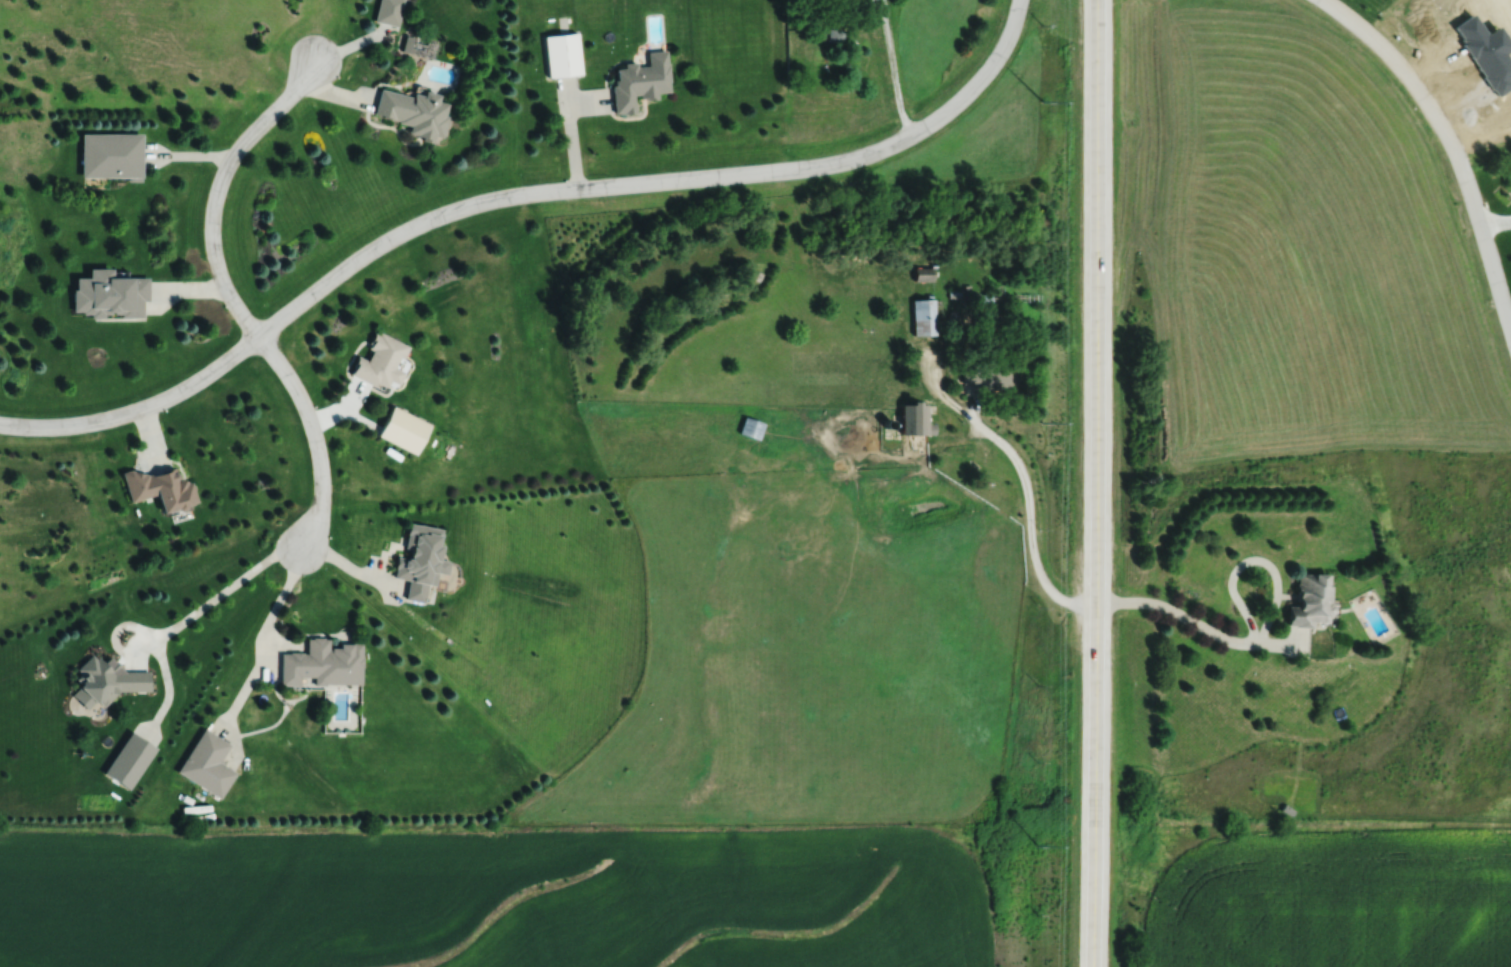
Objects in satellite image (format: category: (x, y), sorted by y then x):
building: (831, 35)
building: (564, 55)
road: (892, 68)
building: (642, 82)
power tower: (1041, 102)
building: (414, 112)
road: (572, 137)
road: (1450, 146)
building: (112, 155)
road: (218, 185)
road: (517, 198)
road: (1493, 222)
building: (918, 274)
building: (111, 295)
building: (918, 317)
building: (382, 361)
building: (982, 373)
building: (908, 417)
building: (747, 428)
building: (405, 430)
road: (318, 440)
road: (1096, 483)
building: (163, 488)
road: (1026, 496)
building: (422, 561)
road: (221, 591)
road: (277, 602)
building: (1305, 602)
road: (1193, 623)
building: (324, 664)
building: (110, 680)
building: (131, 760)
building: (208, 764)
power tower: (1035, 846)

